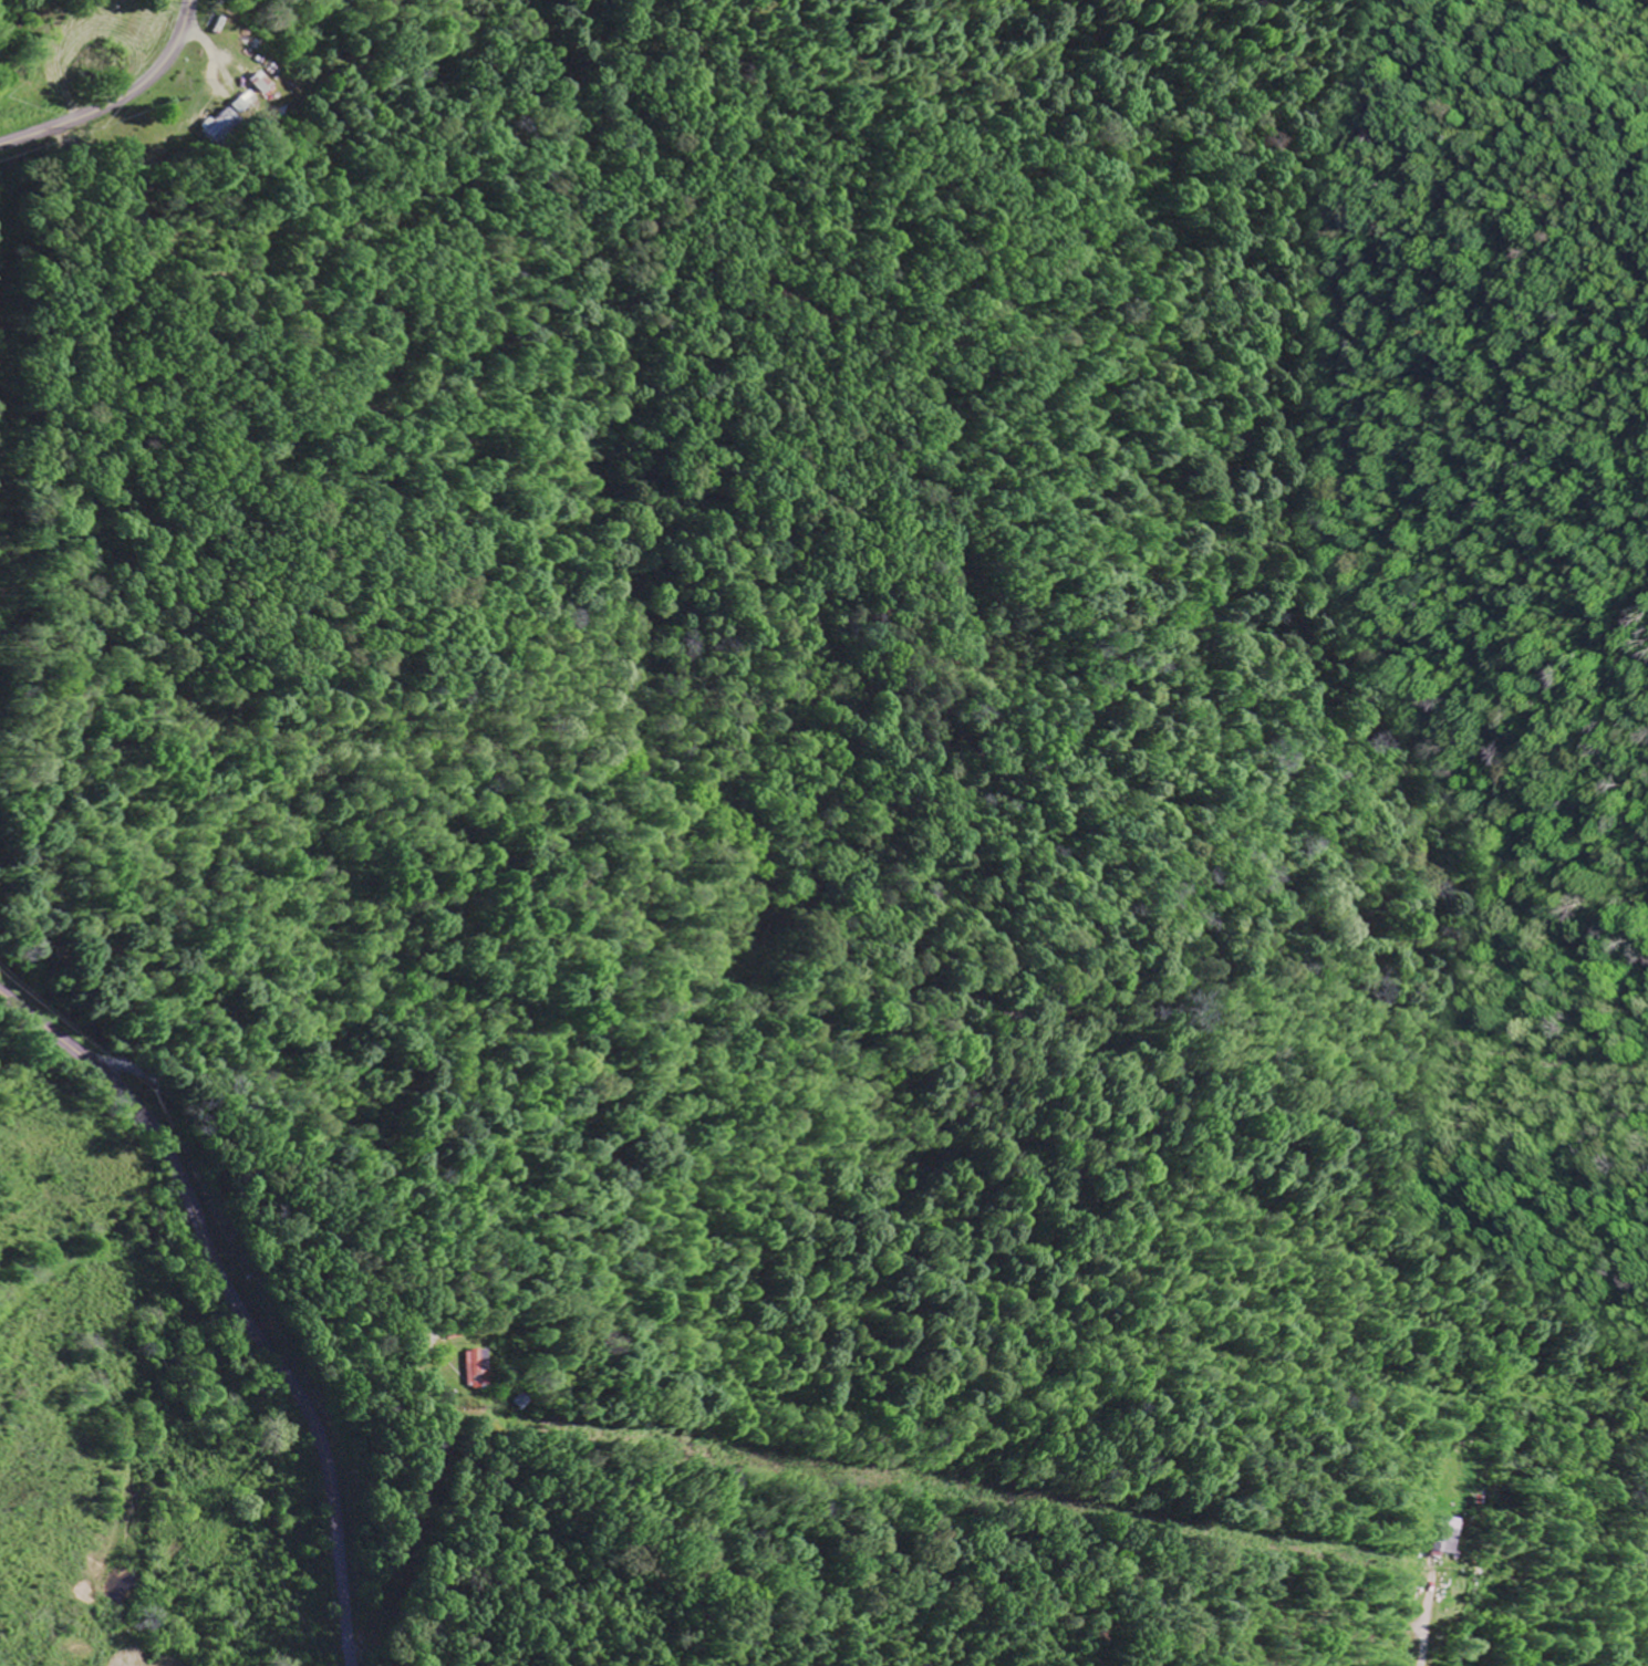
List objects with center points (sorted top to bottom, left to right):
road: (508, 82)
building: (257, 86)
road: (121, 101)
building: (239, 104)
building: (214, 127)
road: (1076, 258)
road: (100, 1062)
road: (260, 1181)
road: (234, 1300)
building: (475, 1370)
road: (1428, 1617)

